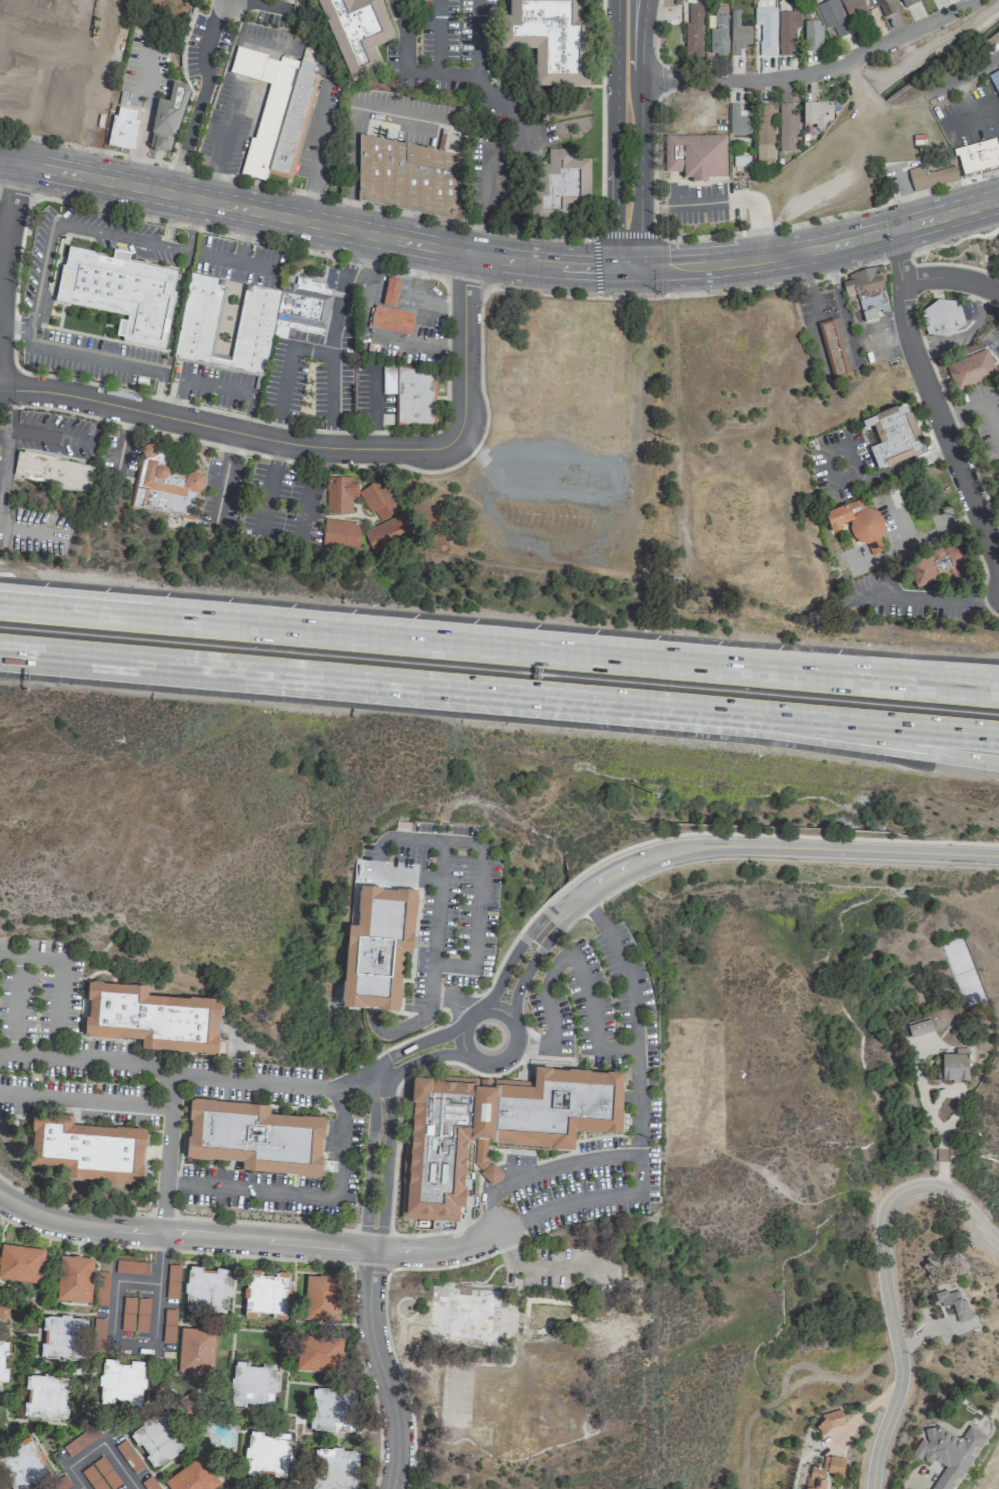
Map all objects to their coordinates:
road: (268, 2)
building: (908, 2)
building: (884, 7)
building: (856, 14)
building: (833, 18)
building: (693, 29)
building: (766, 30)
building: (787, 31)
building: (738, 33)
building: (356, 34)
building: (718, 34)
building: (811, 35)
building: (67, 36)
road: (437, 37)
building: (551, 39)
road: (477, 40)
road: (10, 63)
road: (981, 64)
road: (812, 70)
road: (144, 72)
building: (995, 81)
road: (96, 86)
road: (493, 97)
road: (196, 100)
building: (816, 113)
road: (979, 115)
road: (42, 117)
road: (407, 117)
building: (166, 120)
building: (739, 120)
road: (226, 121)
building: (292, 124)
building: (786, 127)
building: (122, 128)
building: (765, 134)
road: (140, 135)
road: (315, 139)
road: (639, 140)
road: (613, 141)
road: (81, 142)
road: (352, 154)
building: (976, 155)
building: (696, 156)
road: (212, 174)
building: (410, 177)
building: (930, 177)
building: (563, 181)
road: (19, 191)
road: (307, 201)
road: (348, 209)
road: (411, 214)
road: (7, 225)
road: (193, 231)
road: (752, 231)
road: (594, 235)
road: (240, 236)
road: (118, 237)
road: (486, 237)
road: (243, 241)
road: (498, 246)
road: (910, 255)
traffic signals: (613, 256)
road: (896, 256)
traffic signals: (639, 257)
road: (239, 262)
road: (347, 268)
road: (498, 271)
road: (38, 275)
road: (949, 278)
road: (466, 282)
traffic signals: (612, 282)
traffic signals: (639, 282)
building: (866, 290)
building: (120, 294)
road: (688, 295)
building: (302, 311)
building: (391, 311)
building: (941, 317)
building: (198, 321)
road: (12, 325)
road: (961, 332)
road: (25, 335)
road: (309, 350)
road: (94, 357)
building: (970, 369)
road: (329, 370)
road: (215, 387)
road: (157, 391)
road: (281, 394)
building: (410, 395)
road: (370, 399)
road: (929, 400)
road: (975, 405)
road: (4, 430)
building: (892, 436)
road: (71, 438)
road: (371, 440)
road: (313, 445)
road: (6, 449)
road: (278, 451)
road: (830, 451)
road: (906, 466)
building: (52, 472)
building: (997, 480)
building: (164, 486)
road: (269, 491)
building: (340, 494)
building: (378, 499)
road: (309, 504)
road: (618, 521)
road: (283, 525)
building: (858, 525)
road: (30, 531)
building: (387, 533)
building: (340, 535)
road: (926, 539)
building: (938, 566)
road: (31, 603)
road: (937, 605)
road: (31, 607)
road: (395, 636)
road: (30, 652)
road: (30, 655)
road: (863, 669)
road: (863, 675)
road: (413, 684)
road: (883, 723)
road: (882, 741)
road: (693, 833)
road: (755, 846)
road: (380, 855)
road: (439, 866)
building: (377, 944)
road: (571, 956)
road: (505, 968)
building: (962, 973)
road: (523, 977)
road: (59, 978)
road: (452, 1000)
road: (460, 1004)
building: (151, 1015)
road: (469, 1017)
road: (634, 1018)
road: (507, 1019)
building: (919, 1027)
road: (403, 1041)
road: (415, 1045)
road: (502, 1056)
road: (26, 1057)
road: (419, 1061)
road: (113, 1062)
building: (955, 1065)
road: (195, 1078)
road: (941, 1093)
road: (85, 1098)
road: (395, 1120)
building: (492, 1127)
building: (254, 1134)
building: (85, 1146)
road: (564, 1153)
road: (634, 1154)
road: (941, 1155)
road: (501, 1160)
road: (385, 1161)
road: (369, 1162)
road: (767, 1175)
road: (940, 1175)
road: (304, 1195)
road: (71, 1207)
road: (162, 1214)
road: (971, 1215)
road: (264, 1223)
road: (371, 1230)
road: (182, 1233)
road: (172, 1249)
road: (435, 1250)
building: (21, 1263)
road: (370, 1266)
road: (537, 1266)
building: (131, 1267)
building: (74, 1279)
building: (206, 1290)
building: (266, 1293)
building: (320, 1298)
building: (954, 1304)
road: (891, 1317)
building: (467, 1318)
road: (384, 1320)
building: (62, 1338)
road: (137, 1346)
building: (195, 1350)
building: (319, 1353)
building: (1, 1362)
road: (380, 1368)
road: (363, 1377)
building: (121, 1382)
building: (252, 1383)
building: (45, 1397)
building: (333, 1409)
building: (831, 1420)
building: (157, 1439)
road: (99, 1445)
building: (947, 1453)
building: (267, 1454)
building: (833, 1463)
building: (24, 1464)
building: (333, 1468)
building: (193, 1477)
building: (815, 1477)
road: (81, 1488)

